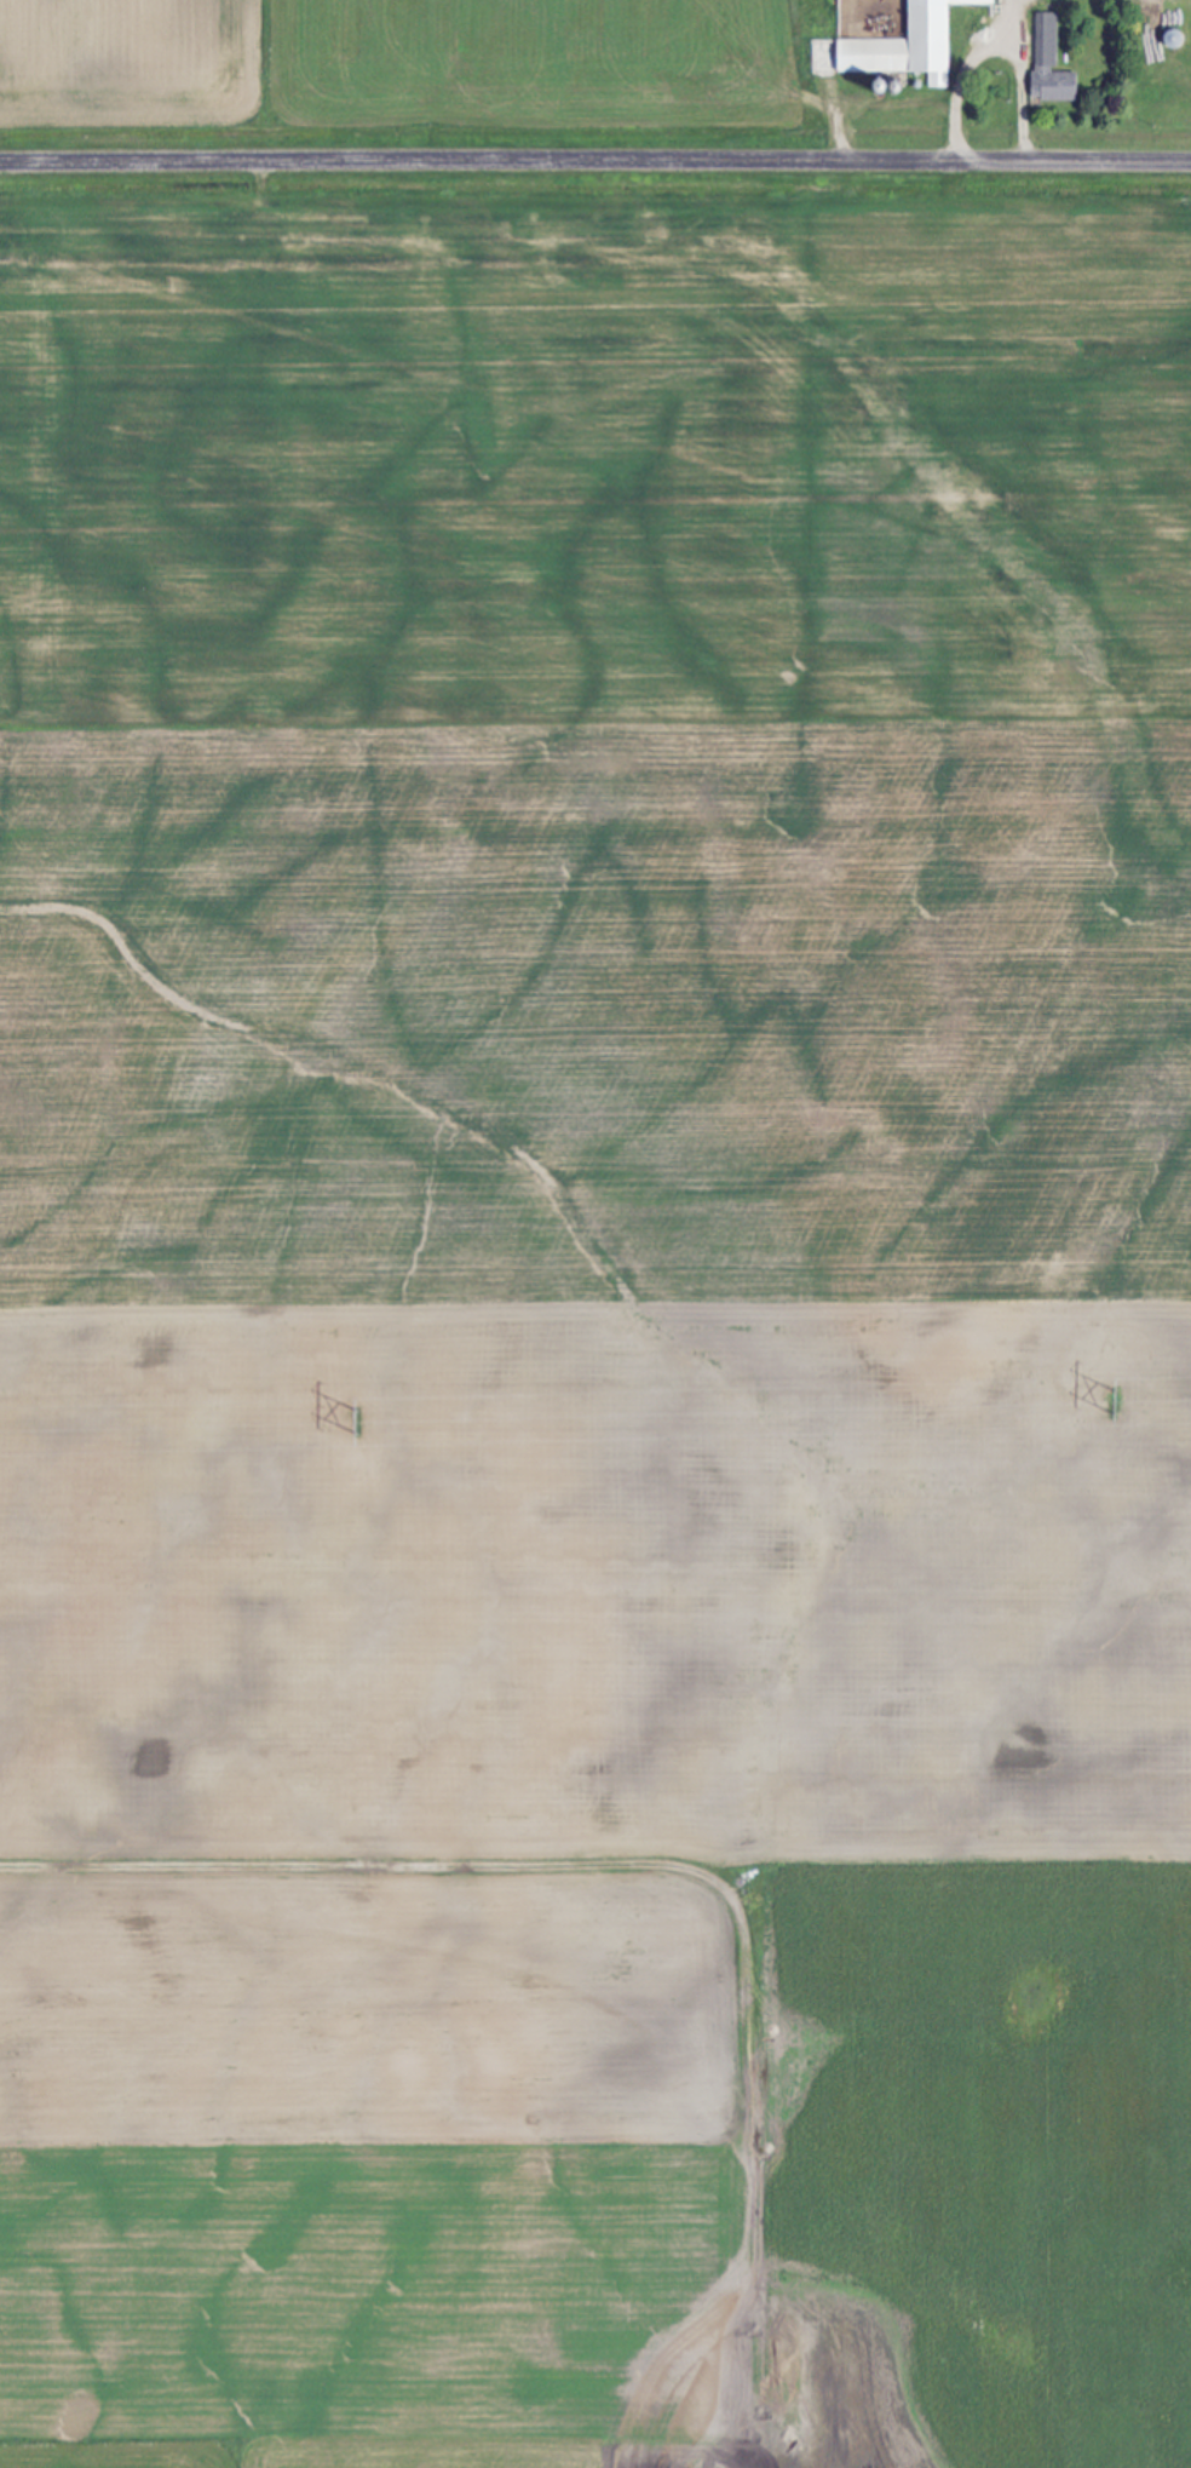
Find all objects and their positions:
road: (997, 42)
building: (896, 46)
building: (1048, 63)
road: (594, 159)
power tower: (1116, 1401)
power tower: (356, 1420)

